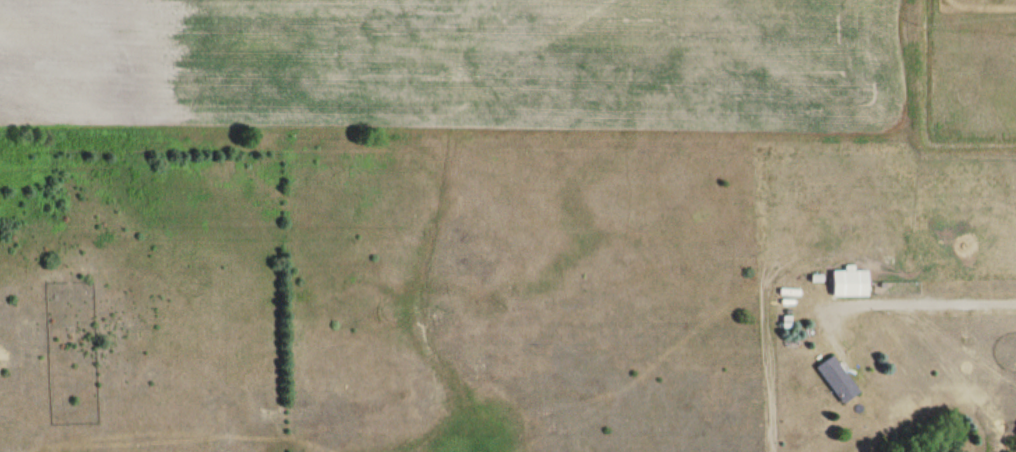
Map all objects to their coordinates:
building: (851, 283)
road: (823, 363)
building: (838, 379)

